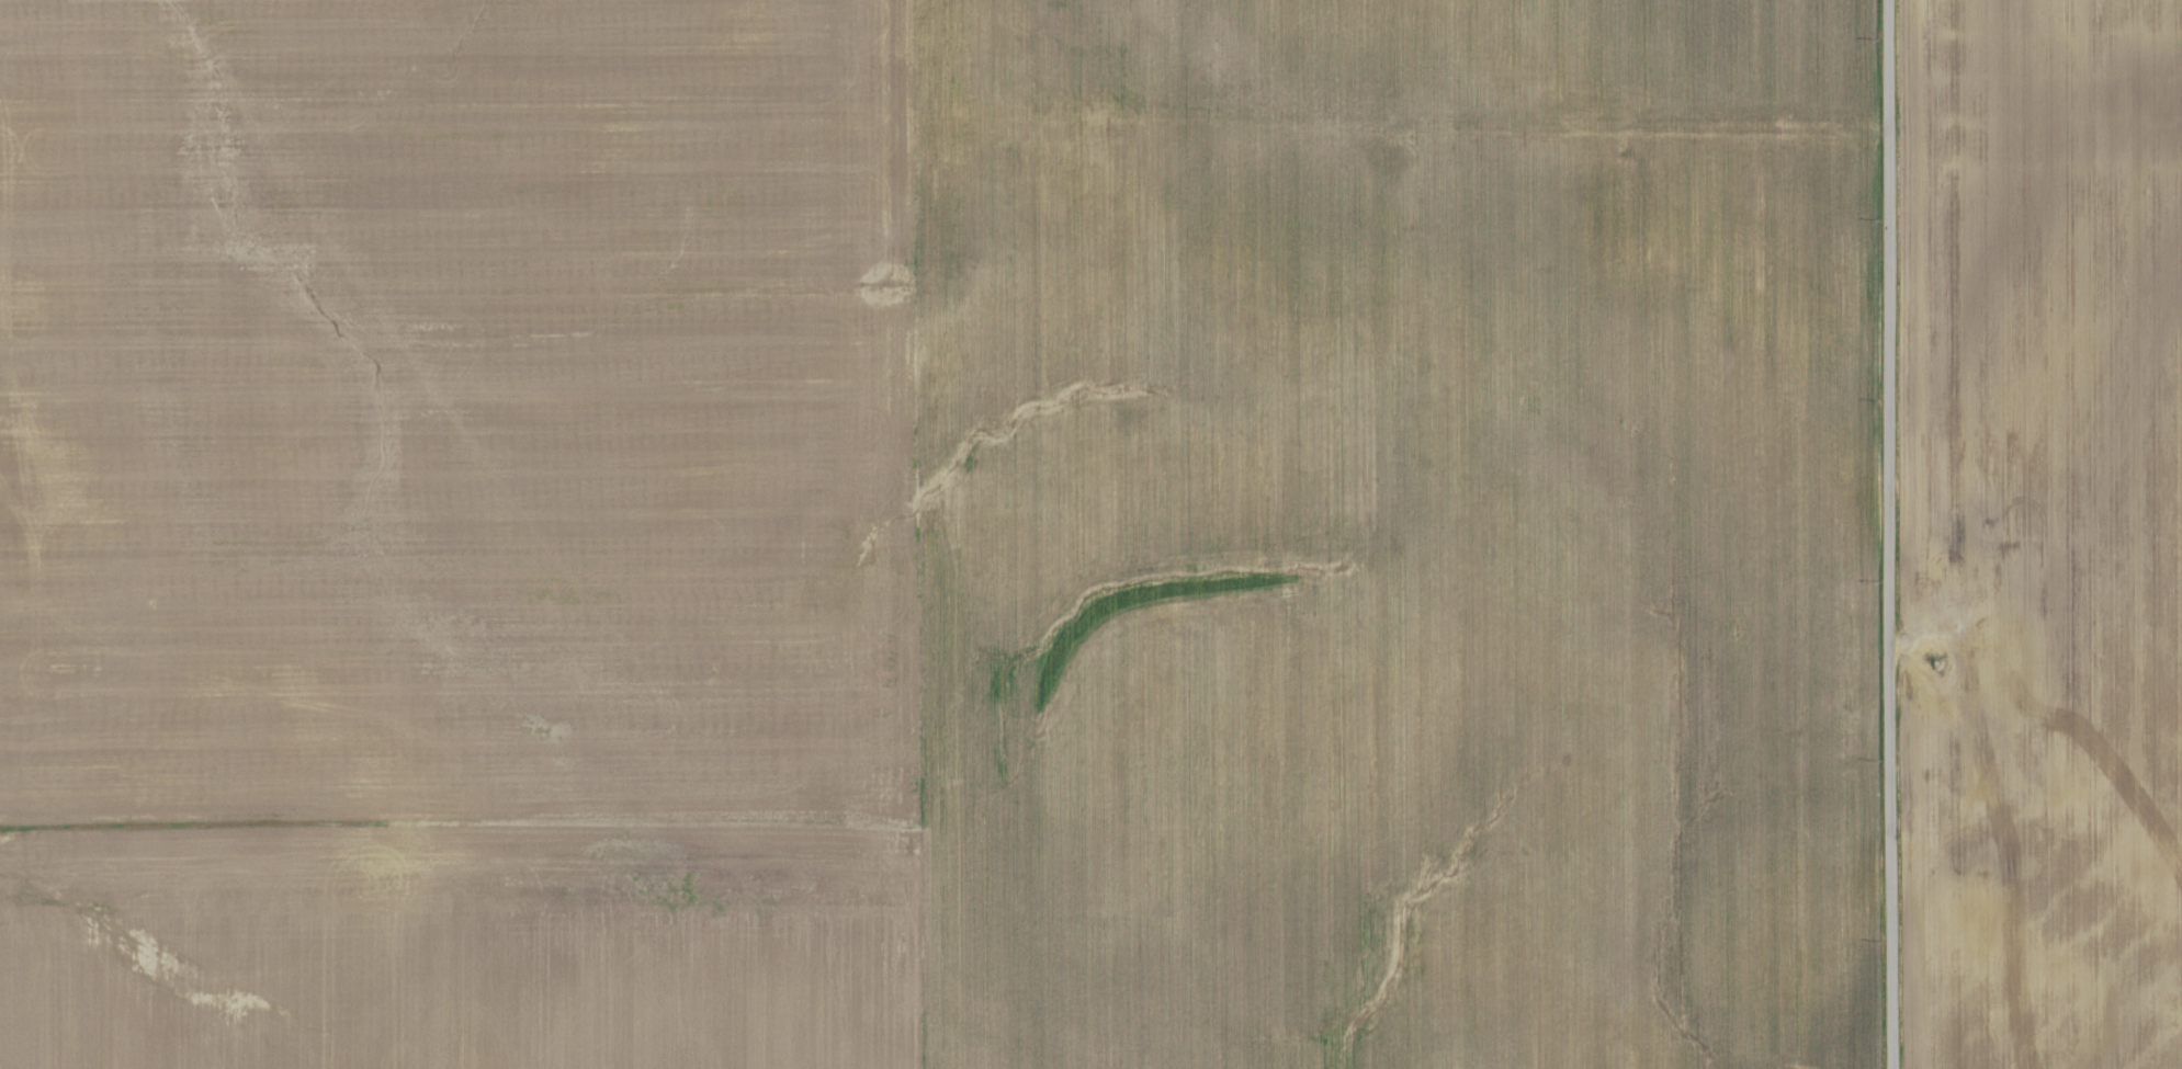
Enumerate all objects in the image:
road: (1890, 534)

